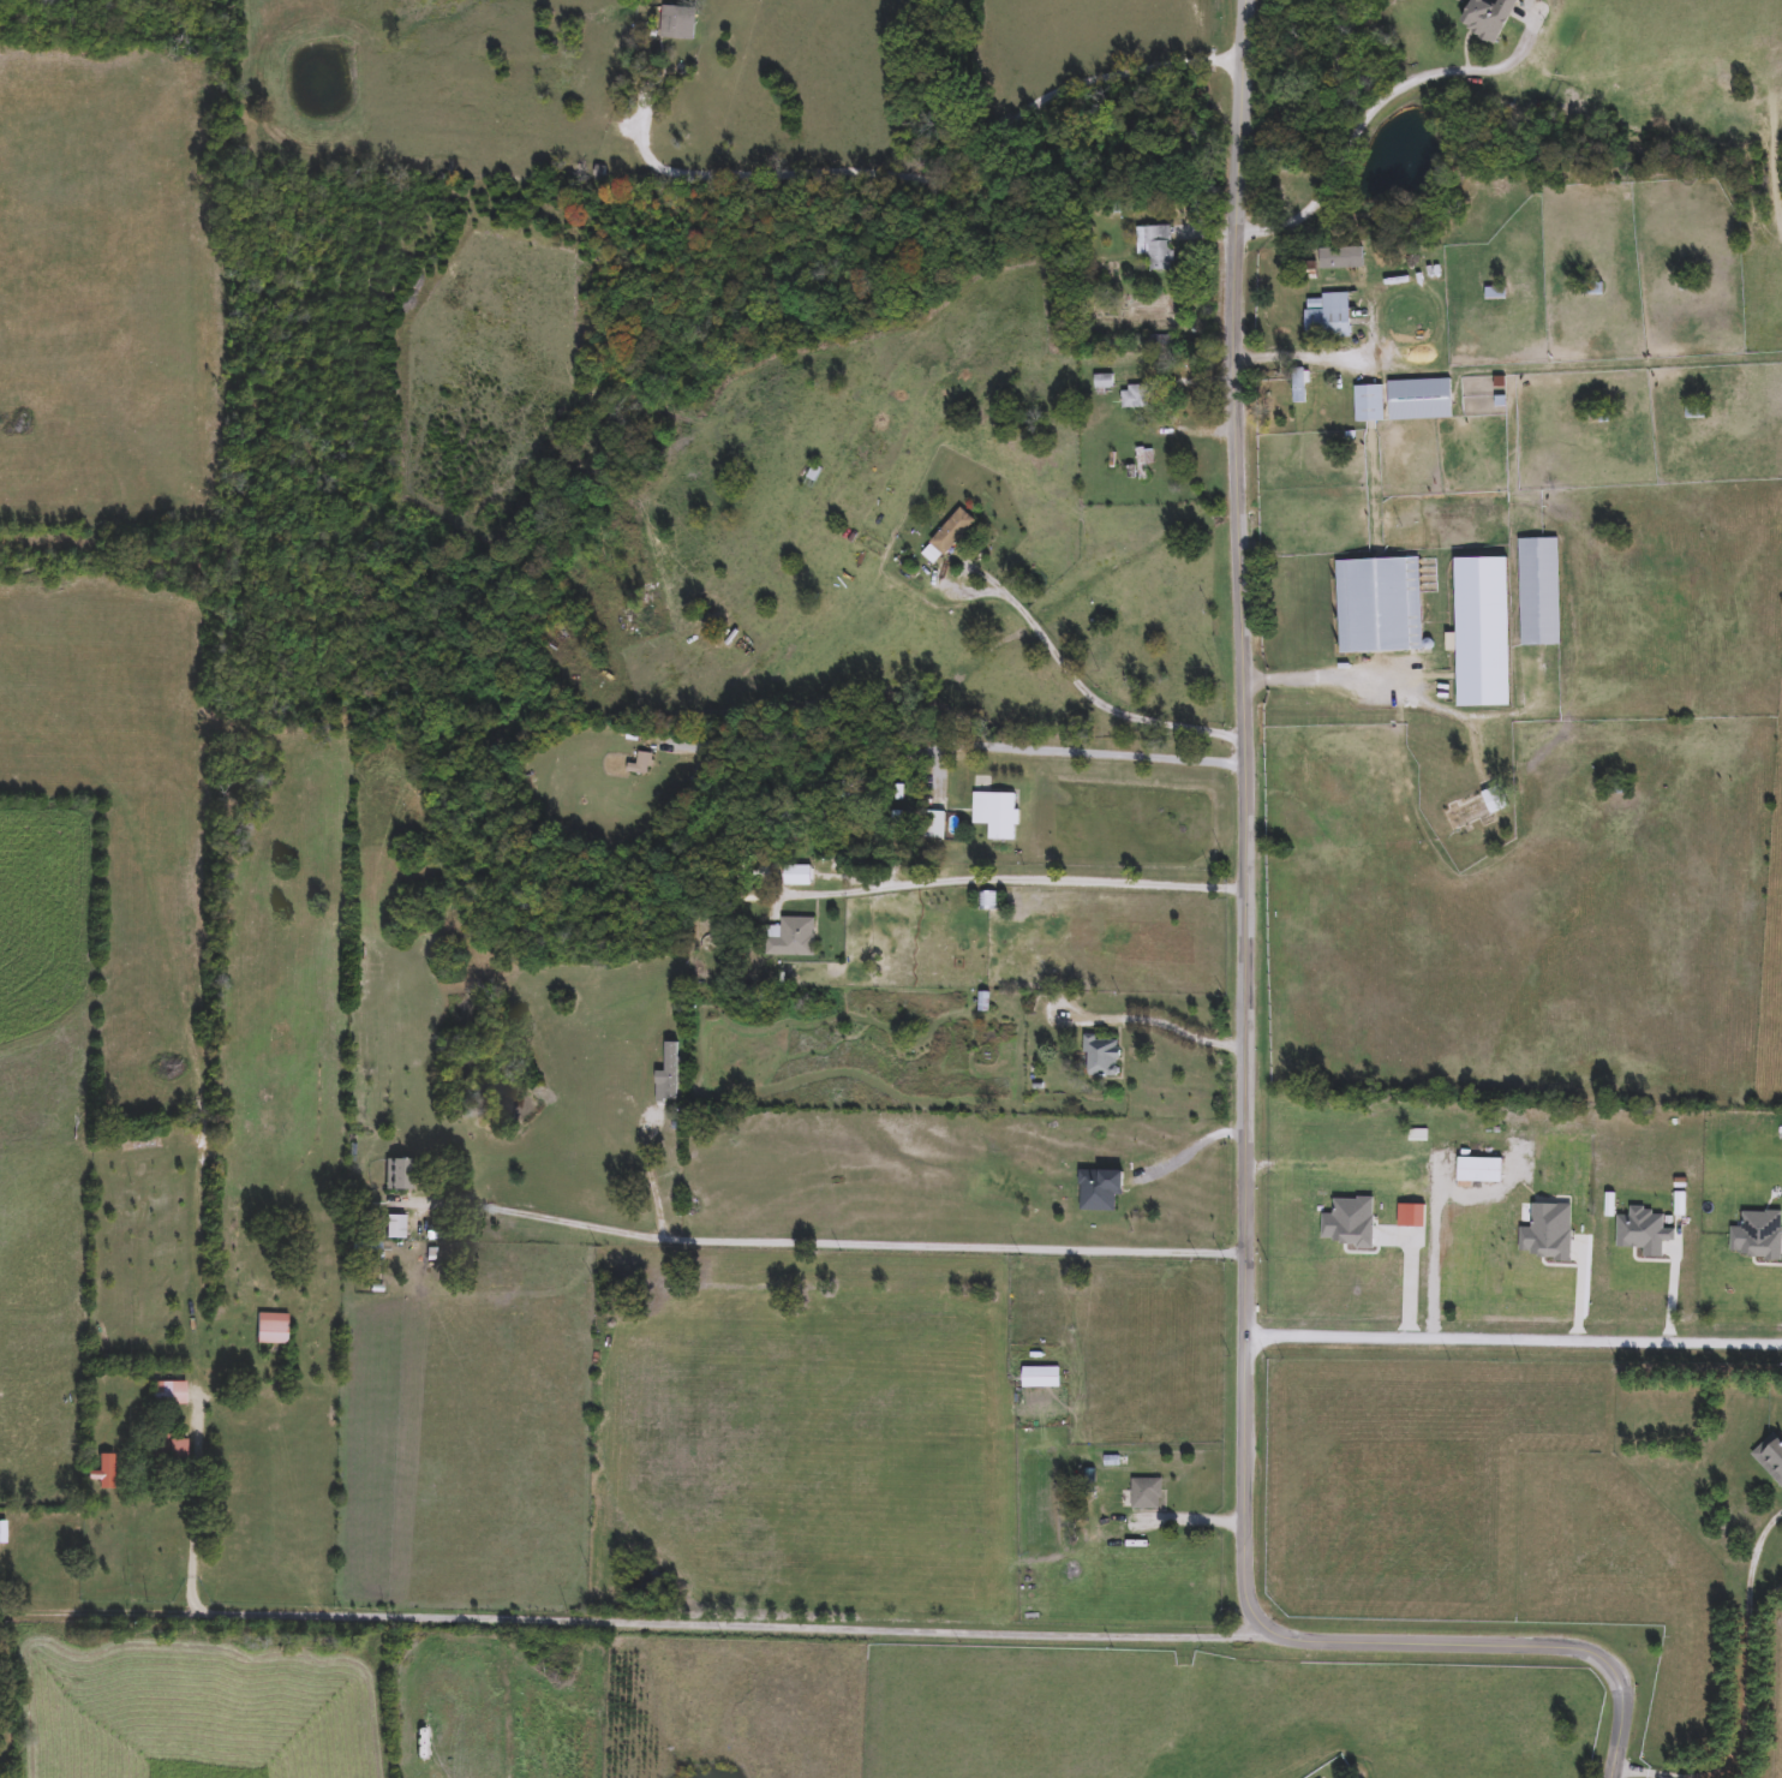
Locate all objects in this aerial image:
building: (1478, 17)
building: (680, 23)
road: (1362, 119)
road: (961, 179)
building: (1156, 247)
building: (1357, 258)
building: (1592, 287)
building: (1329, 316)
road: (1297, 357)
building: (1105, 383)
building: (1135, 398)
building: (1404, 400)
building: (1698, 412)
building: (1144, 463)
building: (951, 536)
building: (1549, 596)
building: (1387, 607)
road: (1386, 680)
road: (1083, 698)
road: (952, 748)
building: (644, 764)
building: (1478, 809)
building: (999, 815)
building: (934, 825)
building: (799, 876)
road: (1013, 881)
building: (793, 937)
road: (1184, 1031)
road: (1242, 1054)
building: (1104, 1056)
road: (1190, 1150)
building: (1493, 1161)
building: (406, 1175)
road: (647, 1175)
building: (1102, 1191)
building: (396, 1228)
road: (835, 1242)
road: (1434, 1267)
road: (1672, 1290)
road: (1580, 1291)
building: (273, 1327)
road: (1513, 1346)
building: (1044, 1378)
building: (171, 1395)
building: (168, 1450)
building: (1771, 1456)
building: (1147, 1496)
road: (191, 1509)
building: (4, 1533)
road: (633, 1623)
road: (1746, 1695)

